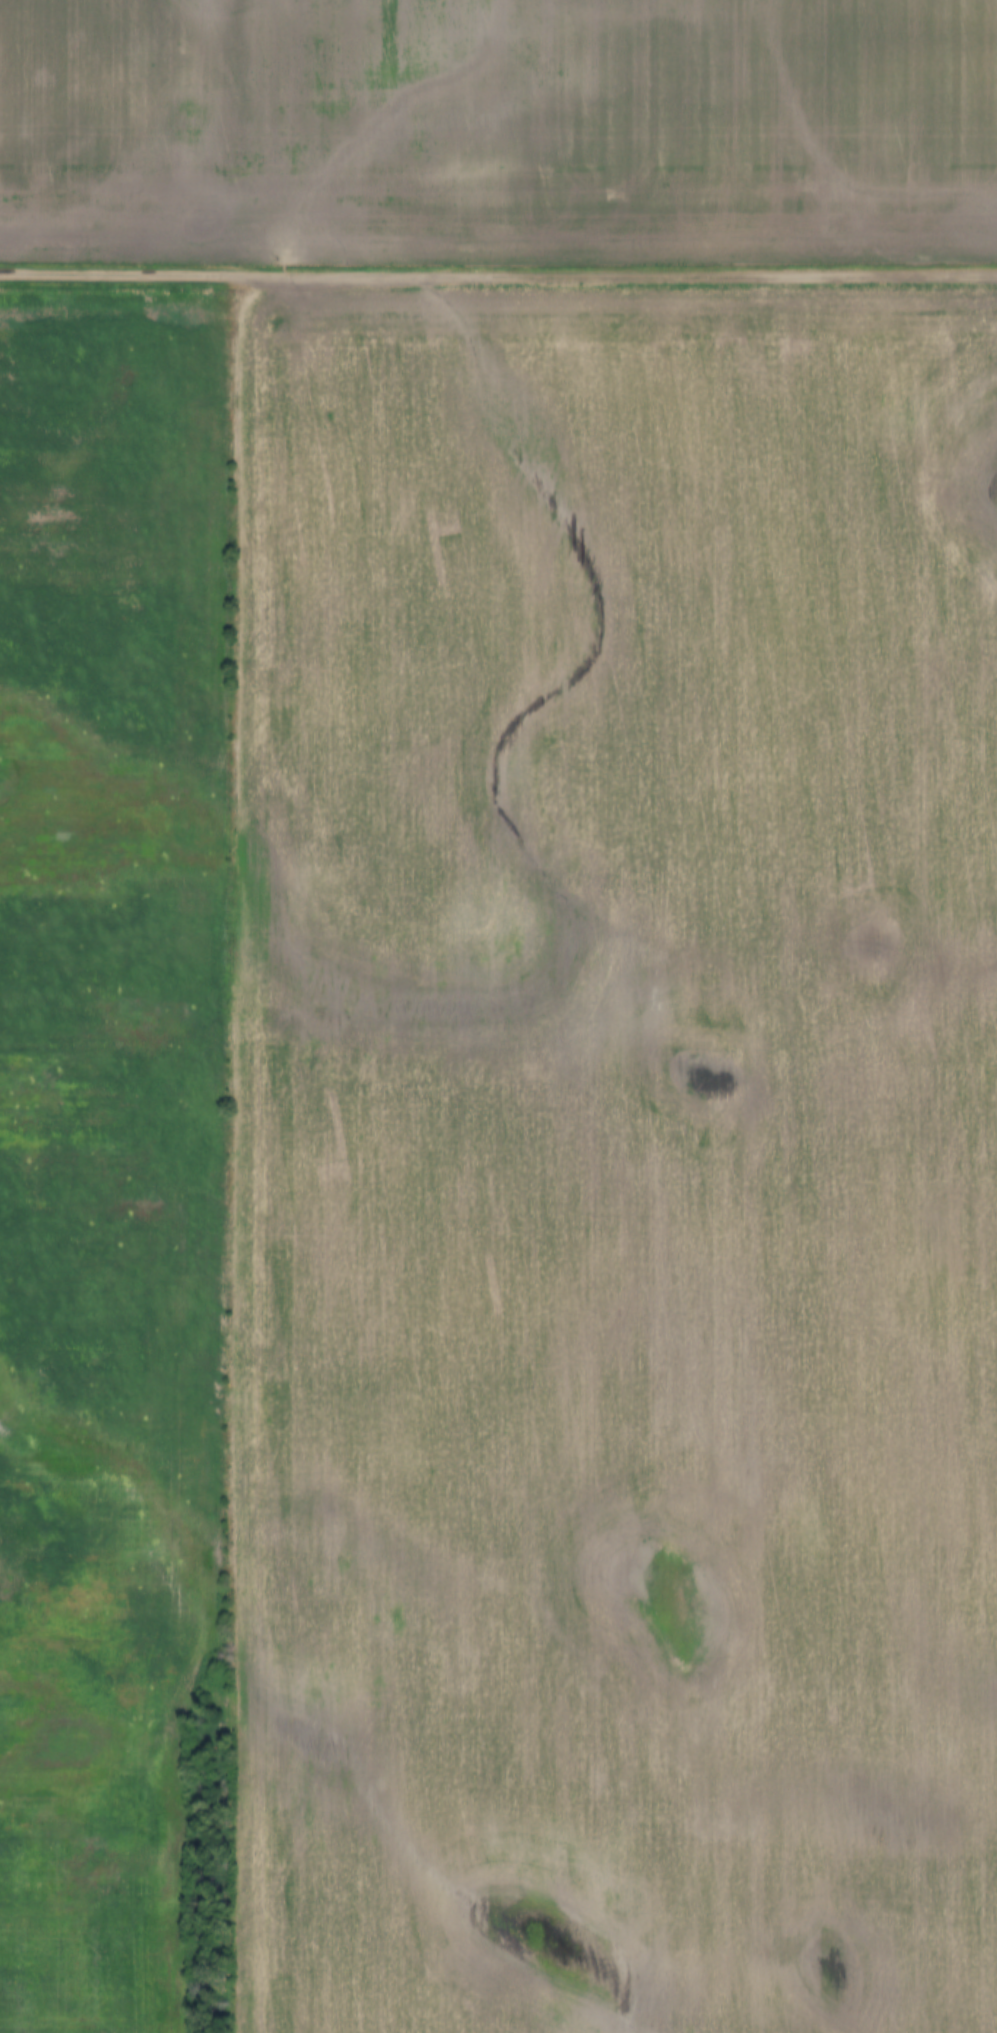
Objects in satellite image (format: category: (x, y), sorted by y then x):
road: (498, 283)

